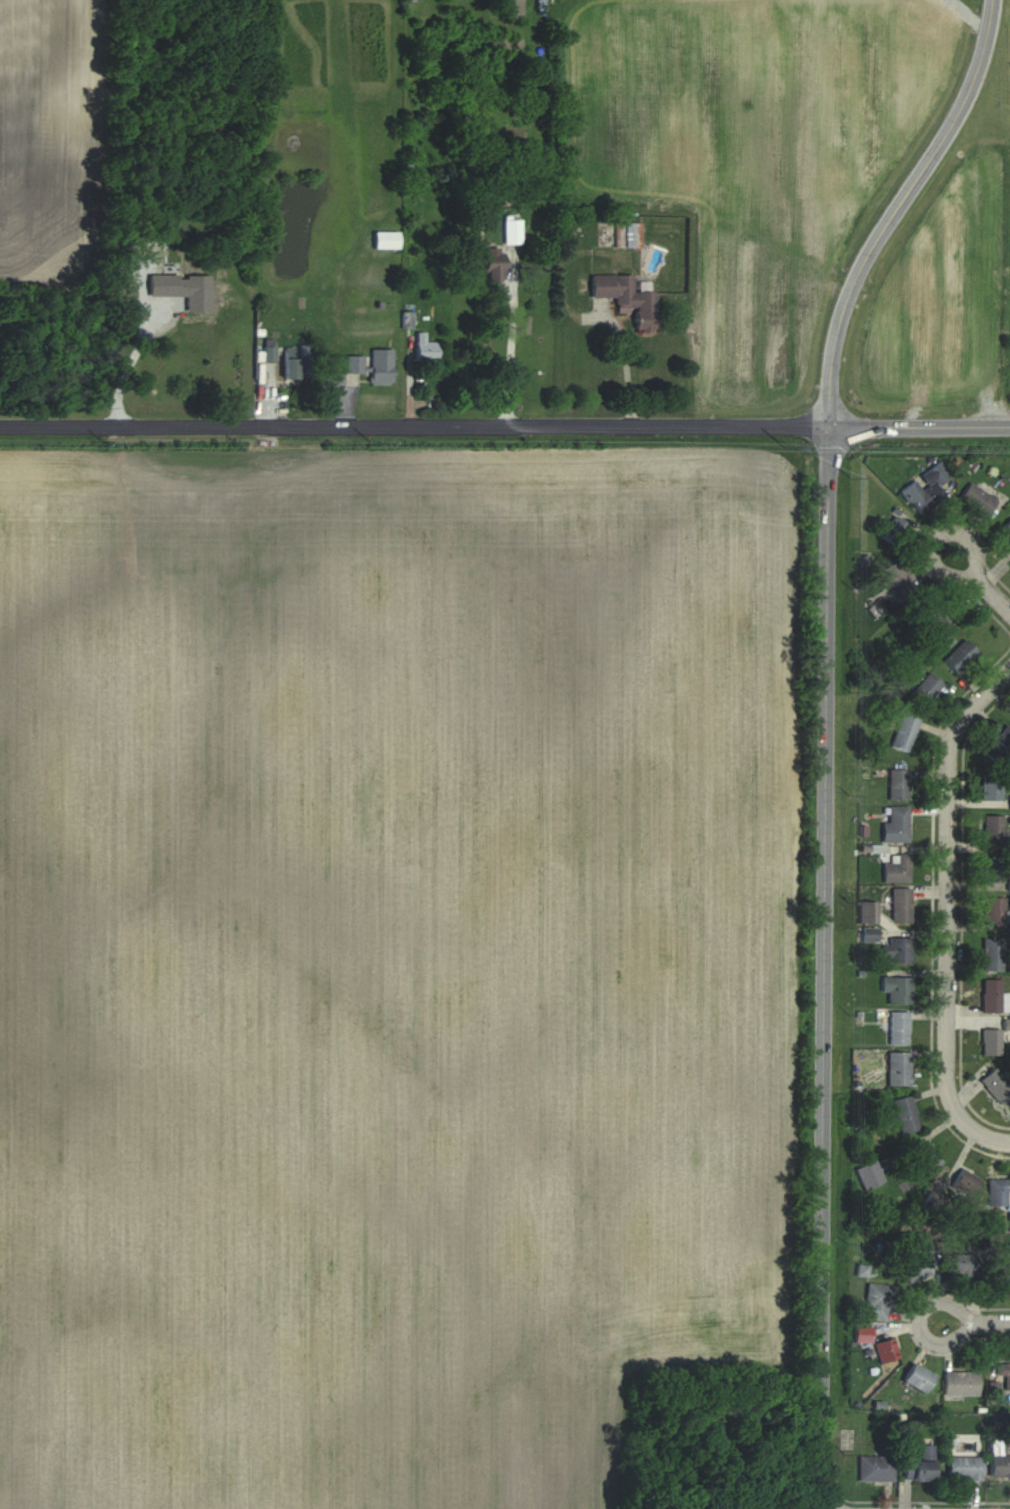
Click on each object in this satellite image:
road: (990, 17)
road: (887, 223)
building: (512, 231)
building: (384, 240)
building: (492, 264)
building: (161, 285)
building: (196, 295)
building: (626, 298)
building: (423, 348)
building: (267, 349)
road: (507, 352)
building: (297, 364)
road: (128, 365)
building: (372, 365)
road: (504, 425)
building: (926, 489)
building: (977, 500)
building: (1006, 530)
building: (894, 531)
road: (933, 554)
building: (898, 577)
road: (993, 591)
building: (932, 617)
building: (959, 656)
building: (925, 689)
building: (904, 733)
building: (999, 745)
building: (897, 784)
building: (991, 787)
building: (1009, 803)
building: (895, 825)
building: (992, 832)
building: (896, 869)
building: (992, 870)
road: (946, 894)
building: (900, 906)
building: (993, 911)
building: (867, 912)
building: (897, 950)
building: (992, 954)
road: (825, 967)
building: (897, 989)
building: (991, 995)
building: (898, 1028)
building: (1006, 1029)
building: (990, 1042)
building: (897, 1069)
building: (996, 1086)
building: (905, 1115)
road: (993, 1138)
building: (926, 1157)
building: (868, 1175)
building: (963, 1182)
building: (998, 1192)
building: (1009, 1223)
building: (963, 1264)
building: (916, 1270)
building: (1000, 1274)
building: (879, 1300)
road: (980, 1319)
building: (862, 1334)
building: (886, 1350)
building: (1003, 1373)
building: (916, 1378)
building: (959, 1383)
building: (999, 1466)
building: (919, 1467)
building: (875, 1468)
building: (963, 1468)

